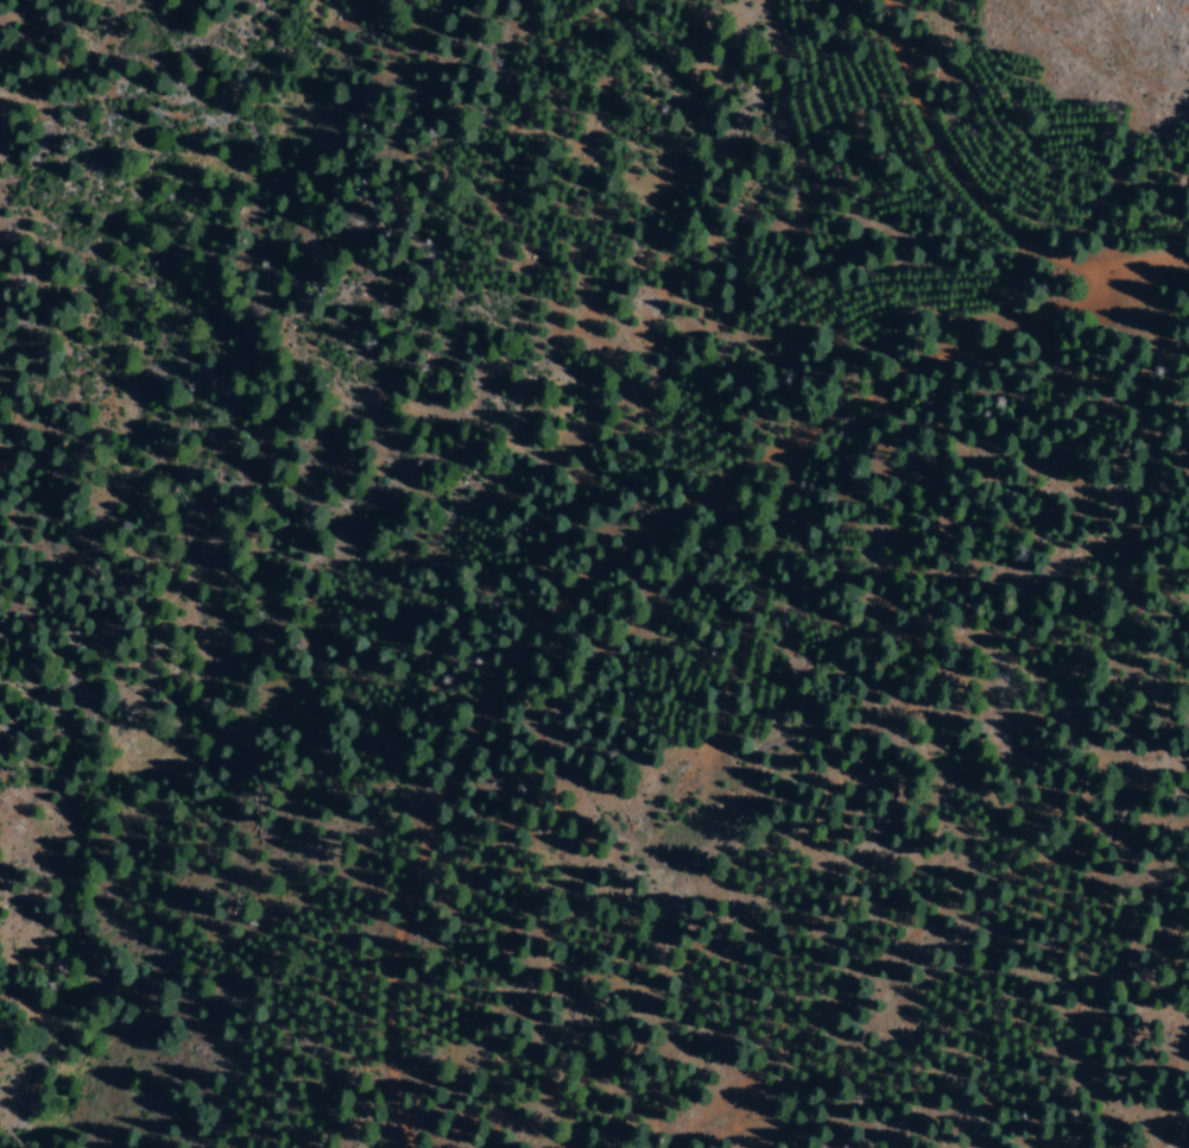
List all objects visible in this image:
road: (980, 204)

